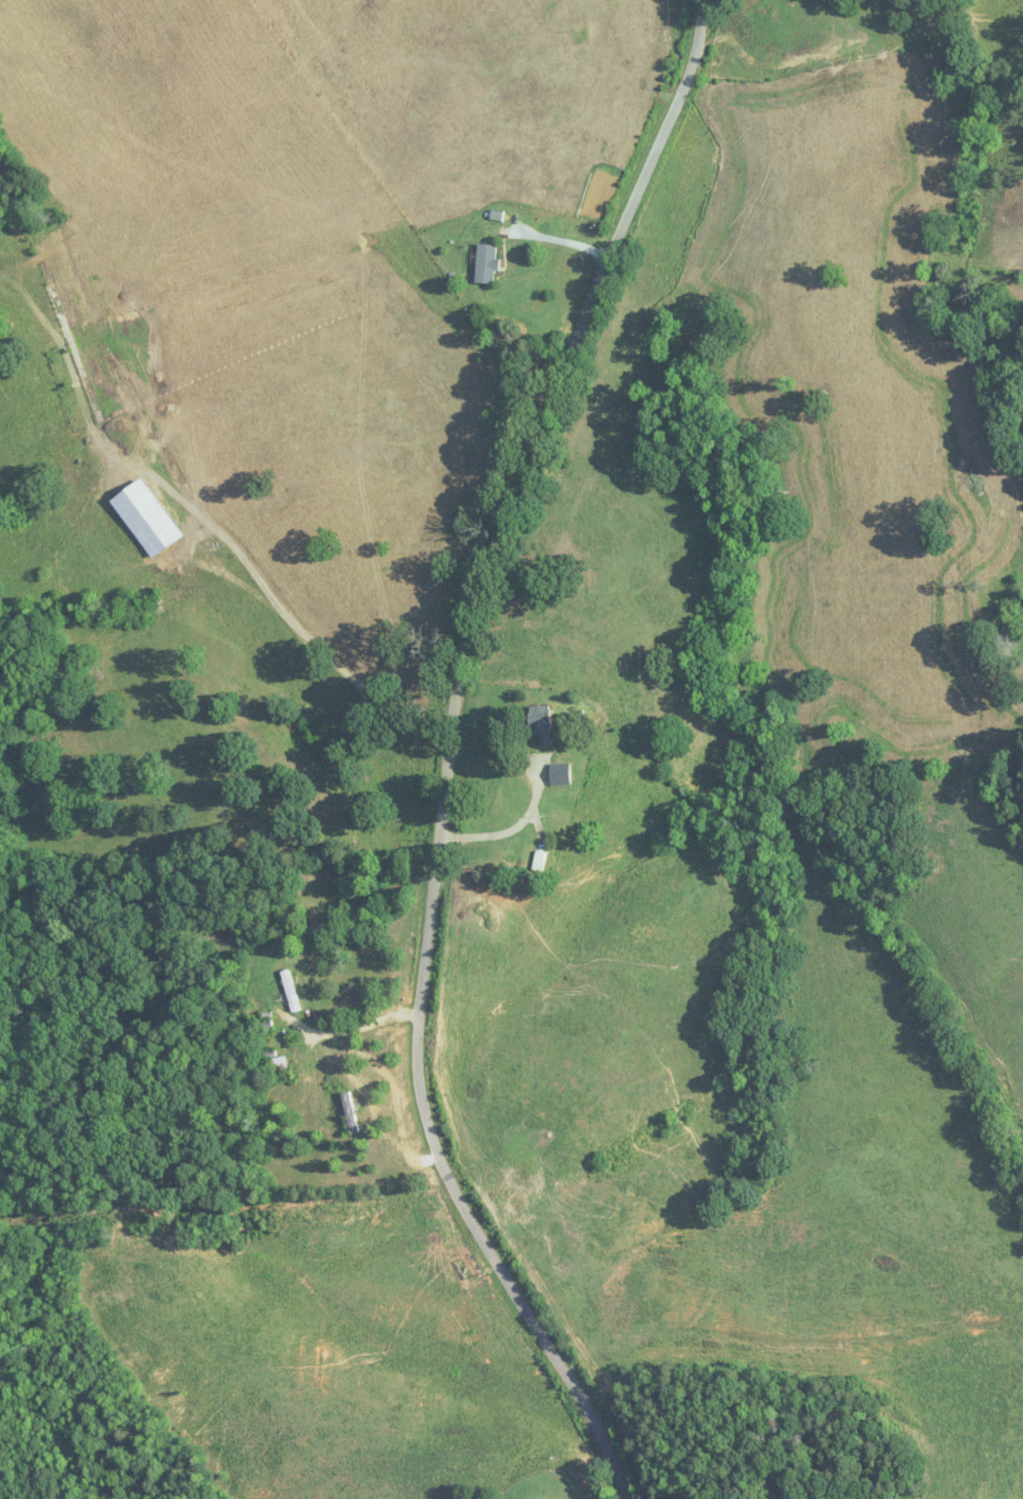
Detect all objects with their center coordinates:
road: (556, 239)
building: (487, 263)
building: (147, 518)
building: (541, 724)
road: (450, 752)
building: (562, 774)
road: (509, 829)
building: (541, 860)
building: (291, 991)
building: (279, 1063)
building: (349, 1113)

